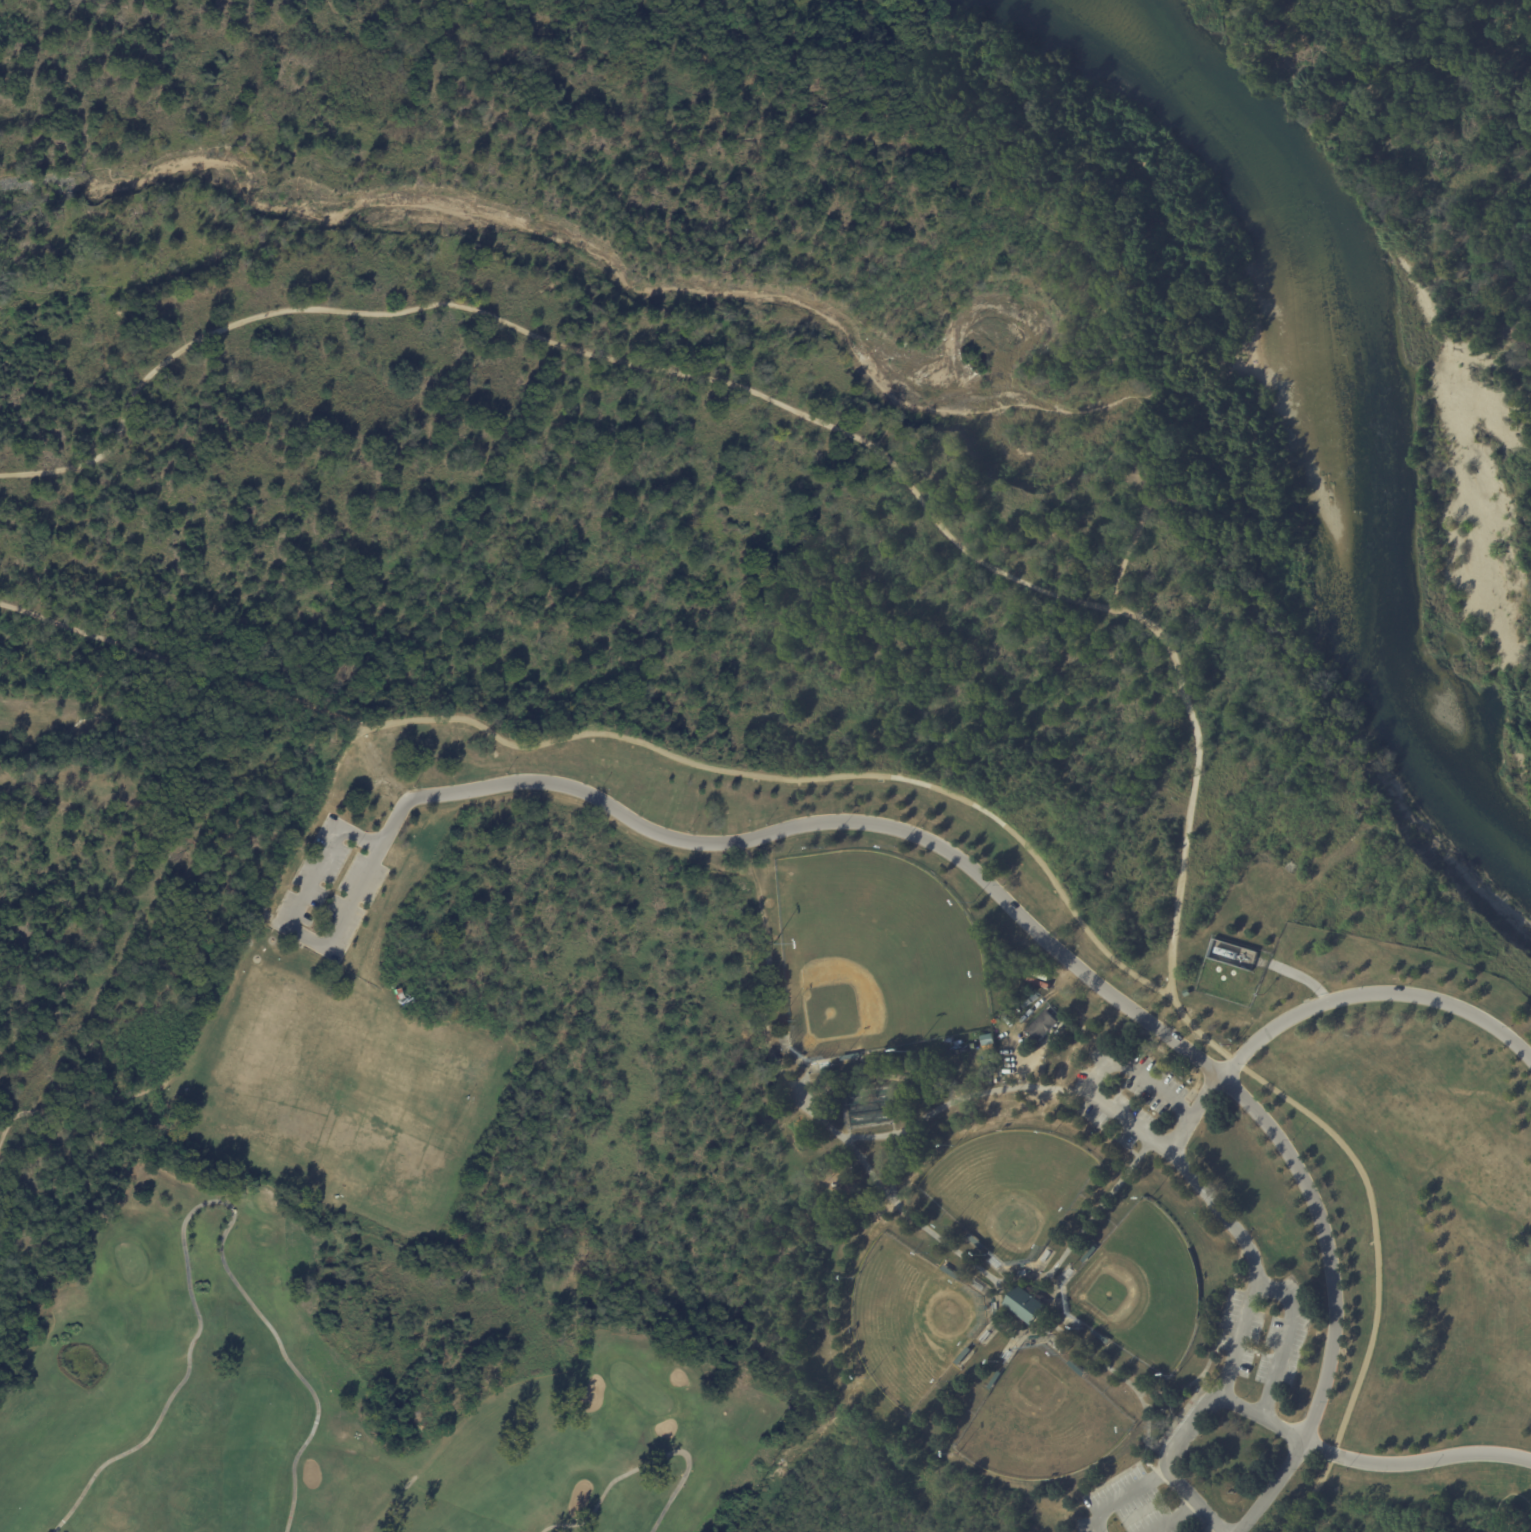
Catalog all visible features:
road: (933, 175)
road: (37, 293)
road: (94, 312)
road: (760, 398)
river: (1378, 405)
road: (182, 659)
park: (441, 731)
park: (740, 747)
street lamp: (505, 772)
road: (801, 778)
street lamp: (412, 786)
street lamp: (599, 787)
street lamp: (842, 810)
street lamp: (764, 823)
road: (801, 824)
street lamp: (922, 825)
street lamp: (686, 830)
street lamp: (899, 846)
street lamp: (354, 847)
street lamp: (824, 848)
parking lot: (328, 892)
road: (261, 904)
street lamp: (973, 905)
road: (272, 918)
road: (288, 927)
street lamp: (774, 943)
park: (874, 953)
street lamp: (991, 974)
road: (1383, 992)
building: (781, 1004)
street lamp: (1145, 1006)
street lamp: (780, 1020)
building: (1042, 1024)
road: (1197, 1031)
street lamp: (911, 1049)
road: (1208, 1050)
building: (849, 1056)
road: (1206, 1060)
street lamp: (837, 1063)
road: (1228, 1066)
road: (1098, 1072)
road: (76, 1106)
road: (1194, 1110)
park: (1009, 1188)
road: (202, 1203)
building: (1059, 1229)
building: (974, 1240)
road: (1326, 1243)
building: (1089, 1254)
park: (130, 1261)
building: (951, 1271)
road: (1377, 1275)
road: (1260, 1277)
park: (1140, 1288)
building: (1028, 1302)
park: (910, 1321)
building: (1099, 1336)
road: (1237, 1336)
building: (964, 1355)
building: (1077, 1367)
building: (994, 1378)
park: (341, 1386)
road: (1262, 1419)
park: (1043, 1420)
road: (1189, 1430)
road: (1416, 1460)
road: (645, 1464)
road: (1272, 1487)
road: (1125, 1495)
road: (1199, 1500)
road: (1498, 1506)
road: (1173, 1515)
road: (1213, 1525)

